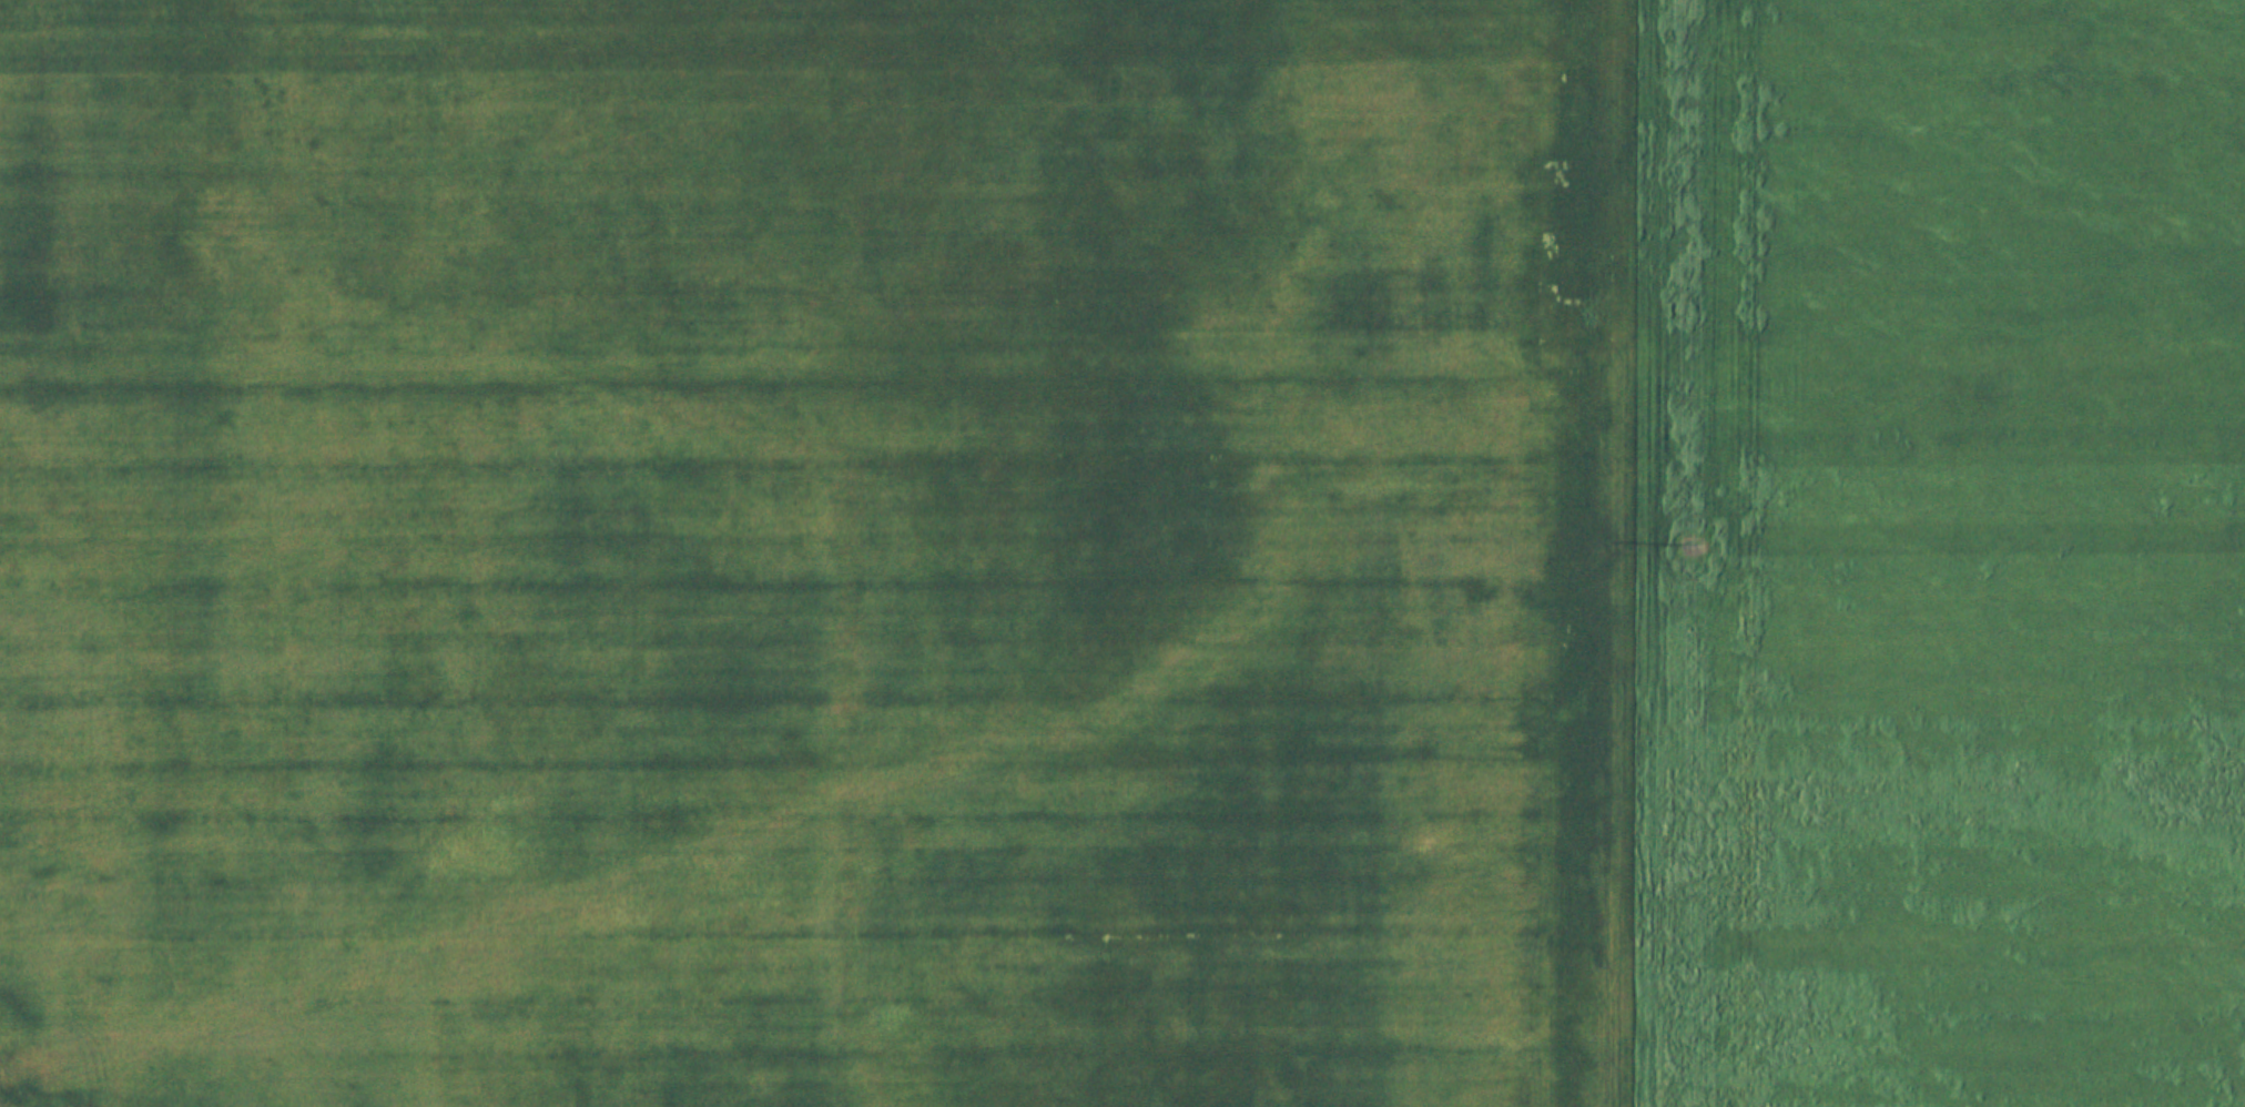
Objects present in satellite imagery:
power tower: (1683, 541)

